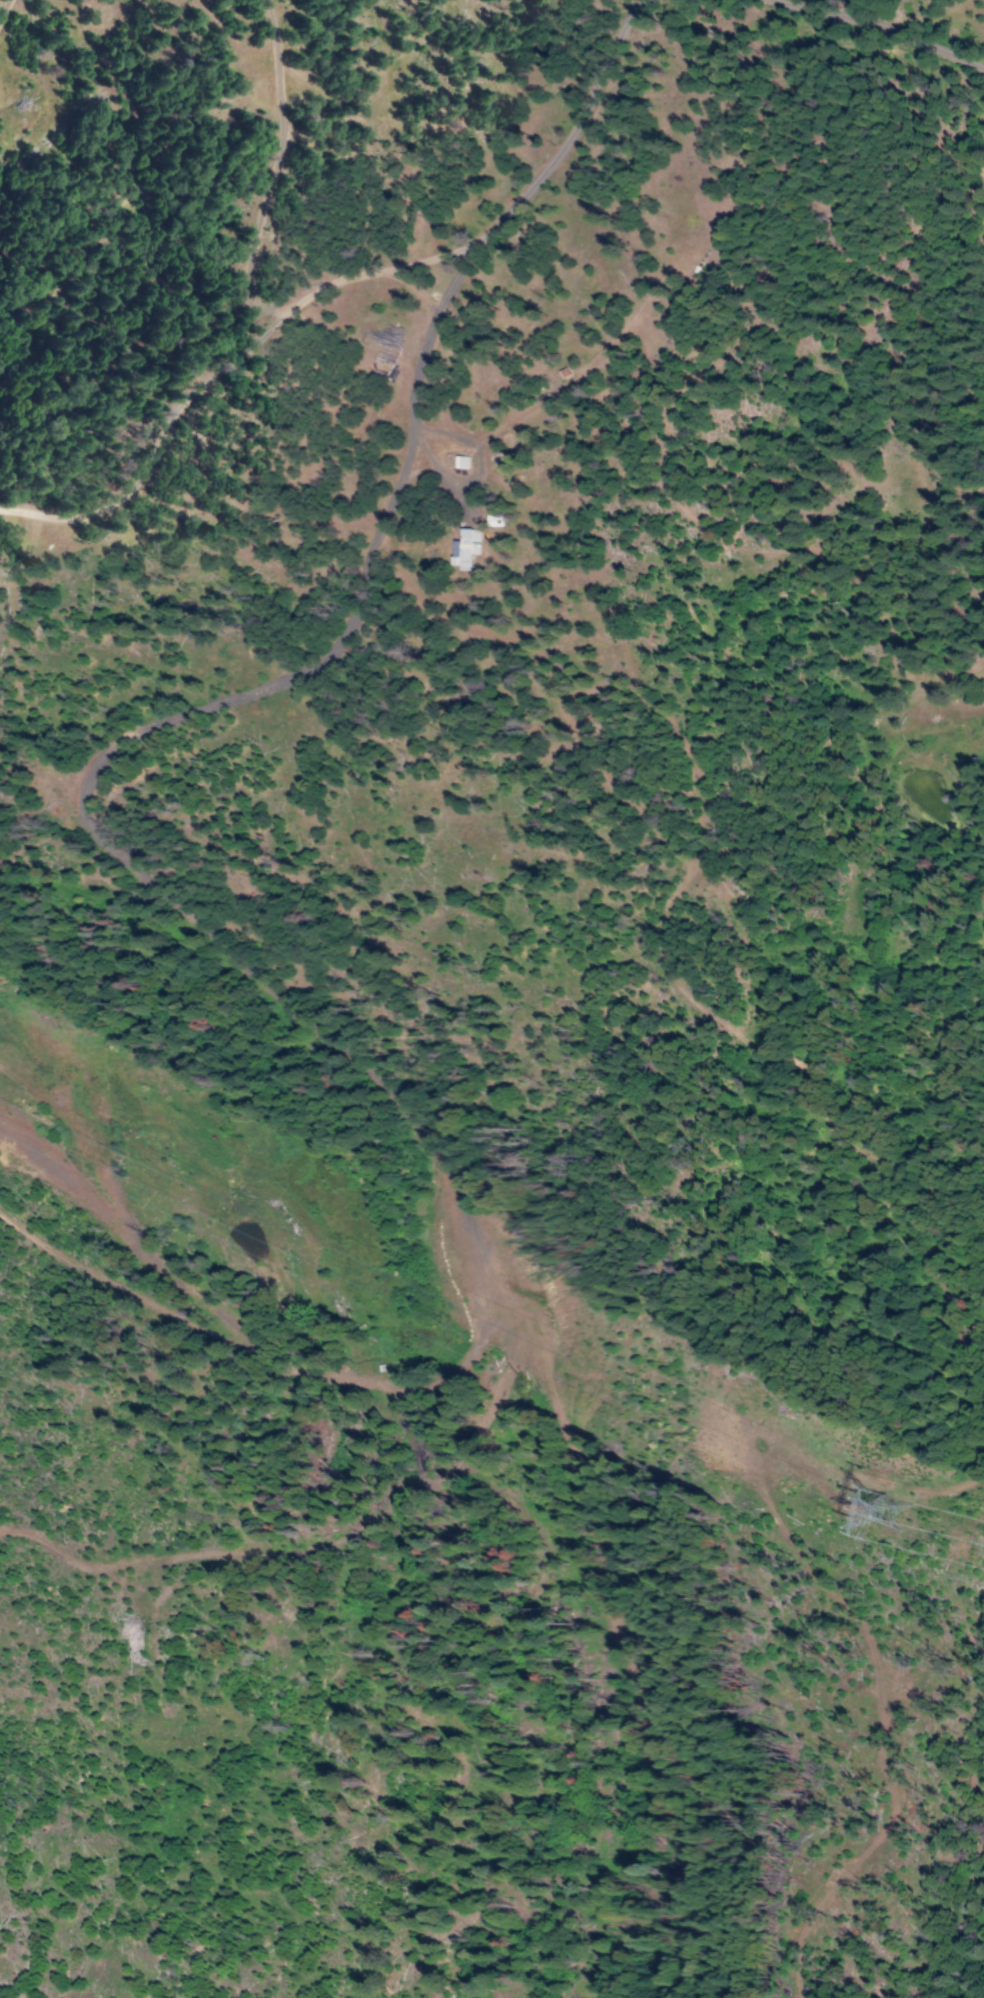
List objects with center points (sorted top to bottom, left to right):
building: (468, 550)
power tower: (898, 1504)

